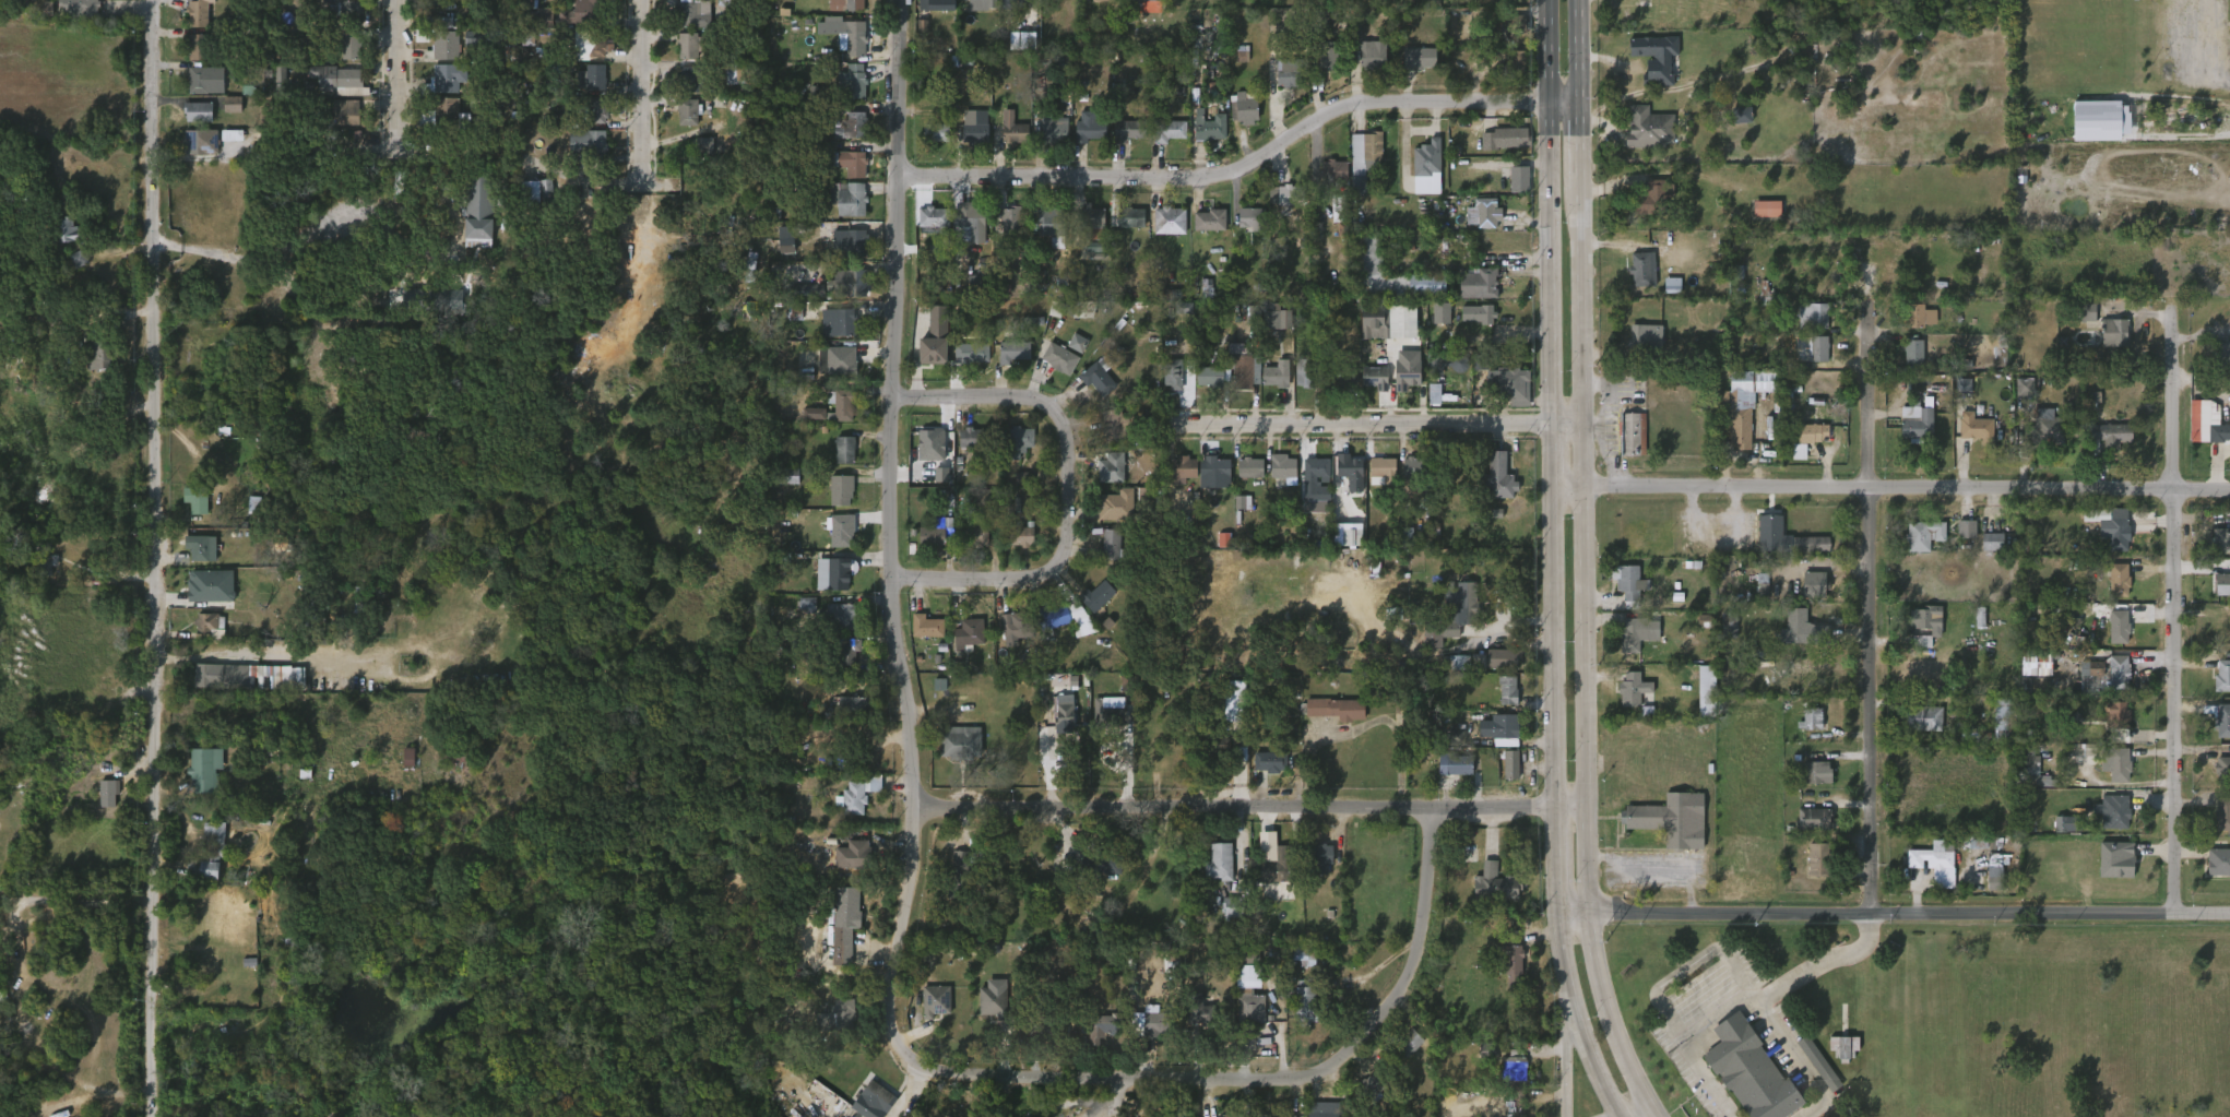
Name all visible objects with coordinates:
building: (461, 0)
building: (1142, 0)
building: (435, 2)
building: (1479, 2)
building: (982, 3)
building: (844, 4)
building: (1029, 4)
building: (939, 5)
building: (1099, 5)
building: (76, 8)
building: (727, 10)
building: (346, 11)
building: (590, 12)
building: (194, 13)
building: (692, 14)
building: (2227, 19)
building: (442, 22)
building: (686, 24)
building: (537, 26)
building: (558, 26)
building: (1510, 26)
building: (483, 37)
building: (854, 39)
building: (444, 44)
building: (594, 44)
building: (689, 44)
building: (352, 46)
building: (198, 47)
road: (2199, 50)
road: (1579, 51)
building: (1326, 55)
building: (681, 56)
building: (1373, 56)
building: (190, 58)
building: (344, 58)
building: (439, 58)
building: (593, 58)
building: (1415, 58)
building: (2228, 60)
building: (1514, 62)
building: (1235, 64)
road: (394, 66)
building: (1412, 68)
building: (1648, 68)
building: (1320, 71)
building: (1288, 72)
building: (589, 76)
building: (443, 78)
building: (695, 79)
building: (207, 80)
building: (341, 80)
building: (852, 80)
building: (275, 83)
building: (1280, 84)
building: (331, 88)
building: (681, 88)
building: (200, 91)
building: (846, 91)
road: (639, 92)
building: (1247, 108)
building: (598, 110)
building: (688, 110)
building: (347, 111)
building: (200, 112)
building: (443, 114)
building: (1239, 118)
building: (843, 119)
building: (590, 121)
building: (192, 122)
building: (681, 122)
building: (341, 123)
building: (1734, 126)
building: (1089, 128)
building: (1209, 128)
building: (1647, 128)
building: (1013, 130)
building: (1128, 130)
building: (1170, 131)
building: (935, 133)
building: (1054, 133)
building: (973, 134)
building: (1515, 136)
building: (1007, 140)
building: (1118, 141)
building: (1163, 141)
building: (202, 142)
building: (929, 142)
building: (969, 143)
building: (1047, 143)
building: (589, 145)
road: (1580, 147)
building: (1498, 148)
building: (194, 153)
building: (698, 156)
building: (1363, 158)
building: (850, 162)
road: (1249, 167)
building: (1426, 167)
building: (1332, 170)
building: (846, 174)
building: (1515, 176)
building: (1327, 181)
building: (396, 188)
building: (534, 191)
building: (1288, 194)
building: (851, 199)
building: (1651, 199)
building: (1279, 205)
building: (842, 209)
building: (476, 211)
building: (1485, 211)
building: (1125, 212)
building: (1091, 216)
building: (934, 217)
building: (1252, 217)
building: (1011, 218)
building: (1170, 218)
building: (1210, 218)
building: (1759, 218)
building: (1049, 221)
building: (969, 222)
building: (1478, 224)
building: (927, 226)
building: (1004, 228)
building: (1122, 228)
building: (1243, 228)
building: (61, 229)
building: (1163, 230)
building: (1203, 230)
building: (1043, 235)
road: (285, 240)
building: (849, 241)
building: (780, 249)
building: (1091, 249)
building: (842, 252)
building: (1367, 252)
building: (72, 269)
building: (1641, 269)
building: (849, 282)
building: (1479, 283)
building: (1664, 295)
building: (1420, 296)
building: (1200, 298)
building: (446, 299)
building: (797, 300)
building: (425, 307)
building: (1438, 313)
building: (1475, 313)
building: (1812, 316)
building: (1918, 317)
building: (846, 322)
building: (1373, 322)
building: (2079, 322)
building: (1434, 323)
building: (1470, 324)
building: (1266, 326)
building: (1912, 326)
building: (1397, 330)
building: (2113, 331)
building: (832, 333)
building: (1640, 342)
building: (2107, 343)
building: (928, 348)
building: (1813, 348)
building: (1012, 350)
building: (1911, 352)
building: (96, 353)
building: (970, 353)
building: (2222, 354)
building: (1807, 358)
building: (1064, 359)
building: (1007, 361)
building: (1906, 361)
building: (2215, 361)
building: (839, 363)
building: (964, 363)
building: (1053, 369)
building: (1243, 370)
building: (1408, 371)
building: (1172, 372)
building: (1307, 372)
building: (1440, 373)
building: (1209, 376)
building: (1276, 376)
building: (1341, 376)
building: (1375, 377)
building: (1098, 379)
building: (1753, 380)
building: (1236, 381)
building: (1165, 383)
building: (1269, 384)
building: (1297, 384)
building: (1399, 384)
building: (1514, 385)
building: (1202, 387)
building: (1371, 388)
building: (1091, 389)
building: (1336, 389)
building: (1757, 392)
building: (843, 403)
building: (833, 415)
road: (1383, 423)
building: (1914, 423)
building: (1117, 425)
building: (1739, 425)
building: (1976, 430)
building: (2043, 431)
building: (1635, 433)
building: (1810, 433)
building: (1104, 435)
building: (2218, 435)
building: (2108, 436)
building: (971, 438)
building: (1969, 438)
building: (928, 440)
building: (1016, 440)
building: (1805, 442)
building: (1624, 443)
building: (962, 448)
building: (844, 449)
building: (925, 451)
road: (1545, 458)
building: (838, 460)
building: (1282, 465)
building: (1217, 466)
building: (1249, 466)
building: (1349, 466)
building: (1413, 466)
building: (1111, 467)
building: (1182, 467)
building: (1380, 467)
building: (1314, 475)
building: (1276, 476)
building: (1210, 477)
building: (1498, 477)
building: (1244, 478)
building: (1405, 478)
building: (1176, 479)
building: (1376, 479)
building: (1344, 483)
building: (784, 486)
building: (840, 488)
road: (1887, 488)
building: (1016, 489)
road: (1069, 491)
building: (193, 500)
building: (835, 500)
building: (1115, 506)
building: (190, 510)
building: (1013, 514)
road: (890, 521)
building: (841, 530)
building: (934, 532)
building: (974, 532)
building: (2120, 533)
building: (1922, 534)
building: (1024, 535)
building: (2220, 536)
building: (1788, 538)
building: (1958, 539)
building: (1991, 542)
building: (835, 544)
building: (1340, 544)
building: (1111, 545)
building: (969, 546)
building: (200, 547)
building: (925, 547)
building: (1013, 547)
building: (1778, 548)
building: (2217, 549)
building: (1985, 551)
road: (1583, 554)
road: (163, 558)
building: (195, 558)
building: (41, 559)
building: (833, 572)
building: (40, 575)
building: (2118, 579)
building: (2221, 582)
building: (1814, 583)
building: (1628, 584)
building: (1806, 593)
building: (2218, 594)
building: (204, 595)
building: (1099, 596)
building: (1463, 602)
road: (2173, 606)
building: (317, 614)
building: (839, 616)
road: (1869, 618)
building: (1063, 620)
building: (1923, 623)
building: (209, 625)
building: (1728, 625)
building: (1017, 626)
building: (926, 627)
building: (2222, 627)
building: (1437, 628)
building: (1802, 628)
building: (2119, 628)
building: (1636, 630)
building: (966, 633)
building: (201, 635)
building: (921, 638)
building: (1006, 639)
building: (1791, 640)
building: (850, 653)
road: (253, 656)
building: (1506, 657)
building: (1454, 662)
building: (1496, 668)
building: (1802, 668)
building: (2118, 672)
building: (2222, 675)
building: (223, 676)
building: (272, 677)
building: (2102, 679)
building: (1799, 681)
building: (1505, 689)
building: (1633, 691)
building: (1500, 701)
building: (1699, 701)
building: (852, 705)
building: (1332, 708)
building: (1226, 711)
building: (1114, 712)
building: (844, 714)
building: (1064, 714)
building: (2116, 714)
building: (2003, 717)
building: (2219, 717)
building: (1330, 718)
building: (1808, 718)
building: (1924, 718)
building: (2110, 723)
building: (1497, 727)
building: (1803, 729)
building: (1918, 729)
building: (2217, 732)
building: (961, 742)
building: (452, 760)
building: (852, 760)
building: (1270, 762)
building: (1455, 764)
building: (1510, 764)
building: (2118, 764)
building: (402, 767)
building: (203, 768)
building: (2222, 769)
building: (1815, 772)
building: (2109, 773)
building: (1448, 774)
building: (1504, 774)
building: (1811, 782)
building: (105, 792)
building: (12, 793)
building: (861, 794)
road: (1249, 808)
building: (2114, 810)
building: (2222, 813)
building: (1816, 818)
building: (1671, 819)
building: (1807, 827)
building: (2056, 837)
building: (207, 852)
building: (857, 852)
building: (1318, 857)
building: (1930, 857)
building: (2118, 859)
building: (1819, 860)
building: (1219, 861)
building: (2218, 861)
building: (1104, 863)
building: (845, 865)
building: (1278, 866)
building: (1264, 869)
building: (1813, 870)
building: (1093, 875)
building: (962, 876)
building: (1495, 883)
building: (1986, 883)
road: (71, 903)
building: (782, 903)
building: (1232, 906)
road: (1909, 914)
building: (1289, 915)
road: (1573, 915)
building: (842, 924)
building: (1300, 952)
building: (1513, 961)
road: (1564, 971)
road: (1805, 973)
building: (1242, 986)
building: (936, 999)
building: (996, 1001)
building: (1305, 1002)
building: (1250, 1003)
building: (1202, 1010)
road: (1606, 1010)
building: (843, 1013)
building: (1244, 1019)
building: (1045, 1022)
building: (1105, 1022)
building: (1158, 1022)
building: (1188, 1025)
building: (830, 1026)
building: (1146, 1034)
building: (1092, 1037)
road: (1682, 1042)
road: (21, 1043)
building: (1407, 1043)
building: (1843, 1045)
building: (1837, 1057)
road: (1801, 1062)
building: (1817, 1063)
building: (1515, 1065)
road: (1567, 1069)
building: (1752, 1070)
road: (1596, 1071)
building: (1811, 1072)
building: (1507, 1077)
road: (1249, 1080)
building: (1369, 1085)
building: (877, 1094)
building: (868, 1106)
road: (1628, 1108)
road: (1651, 1108)
building: (1327, 1113)
building: (1224, 1115)
building: (1281, 1115)

